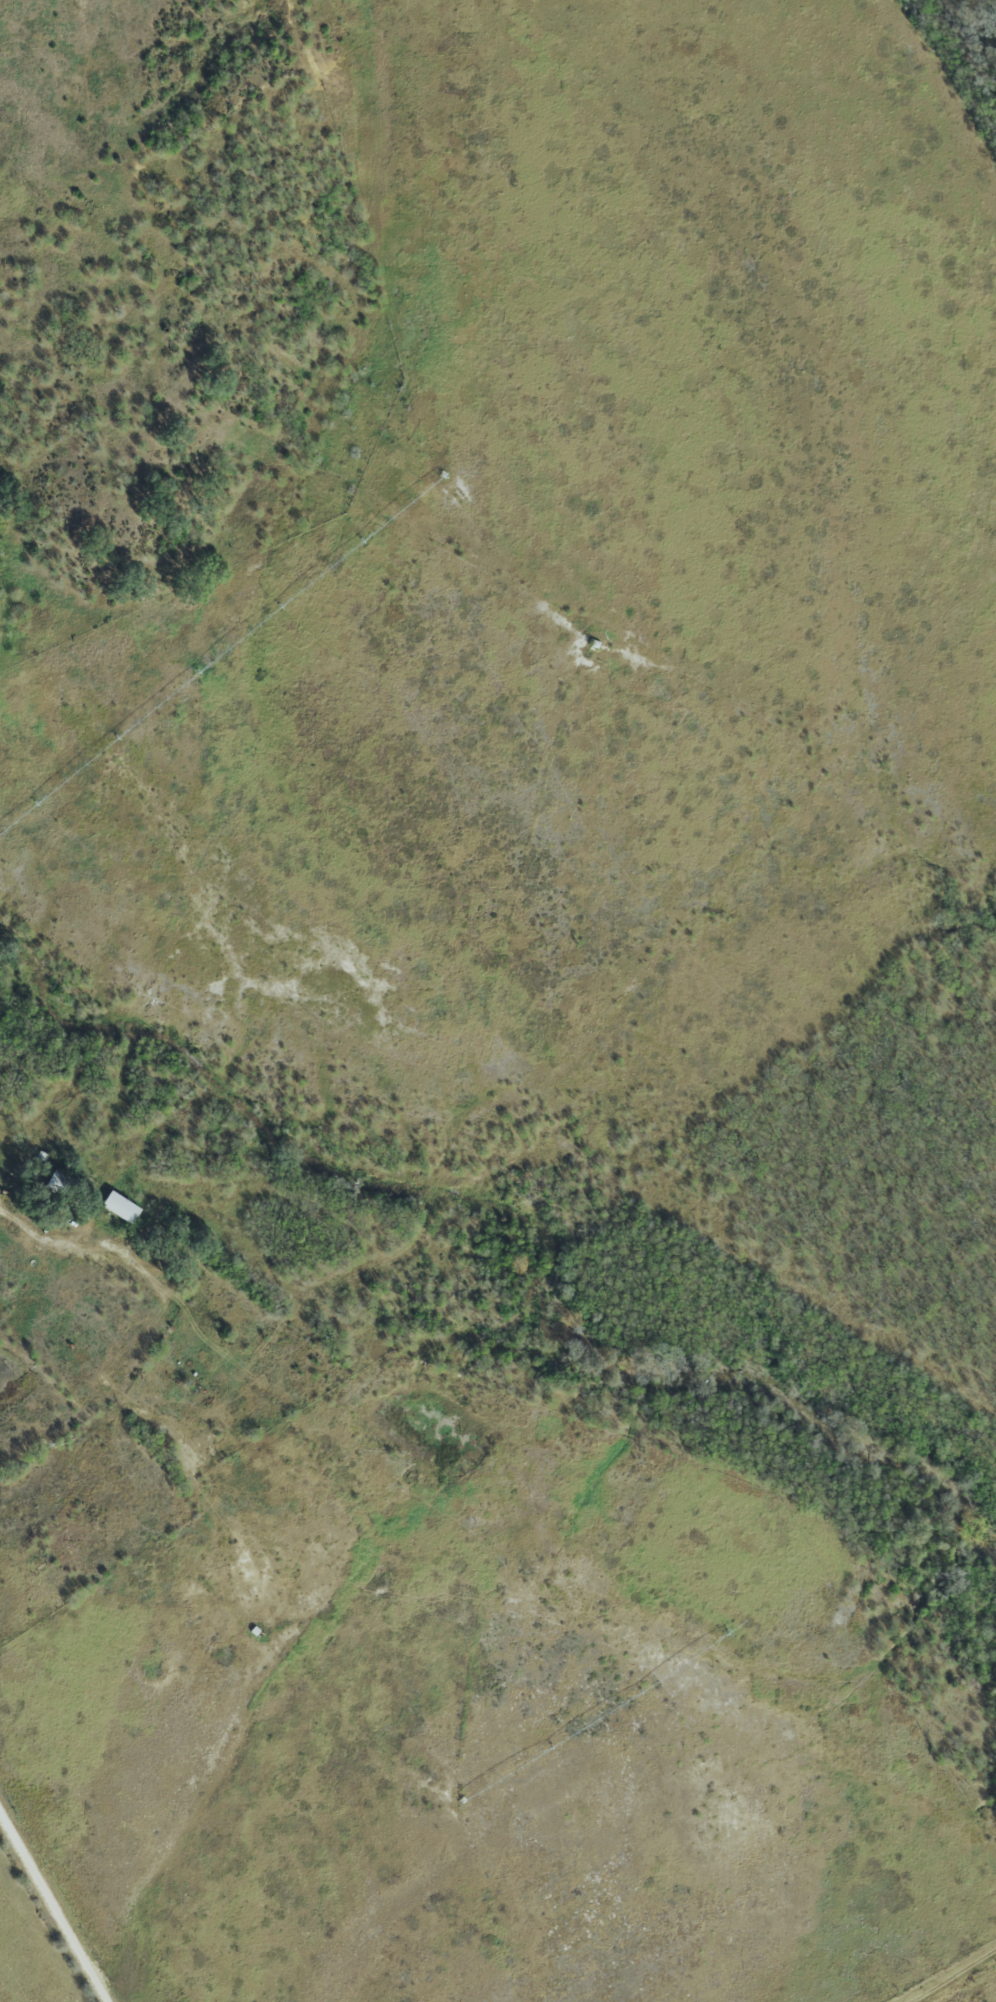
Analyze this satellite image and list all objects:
road: (21, 1223)
road: (52, 1907)

